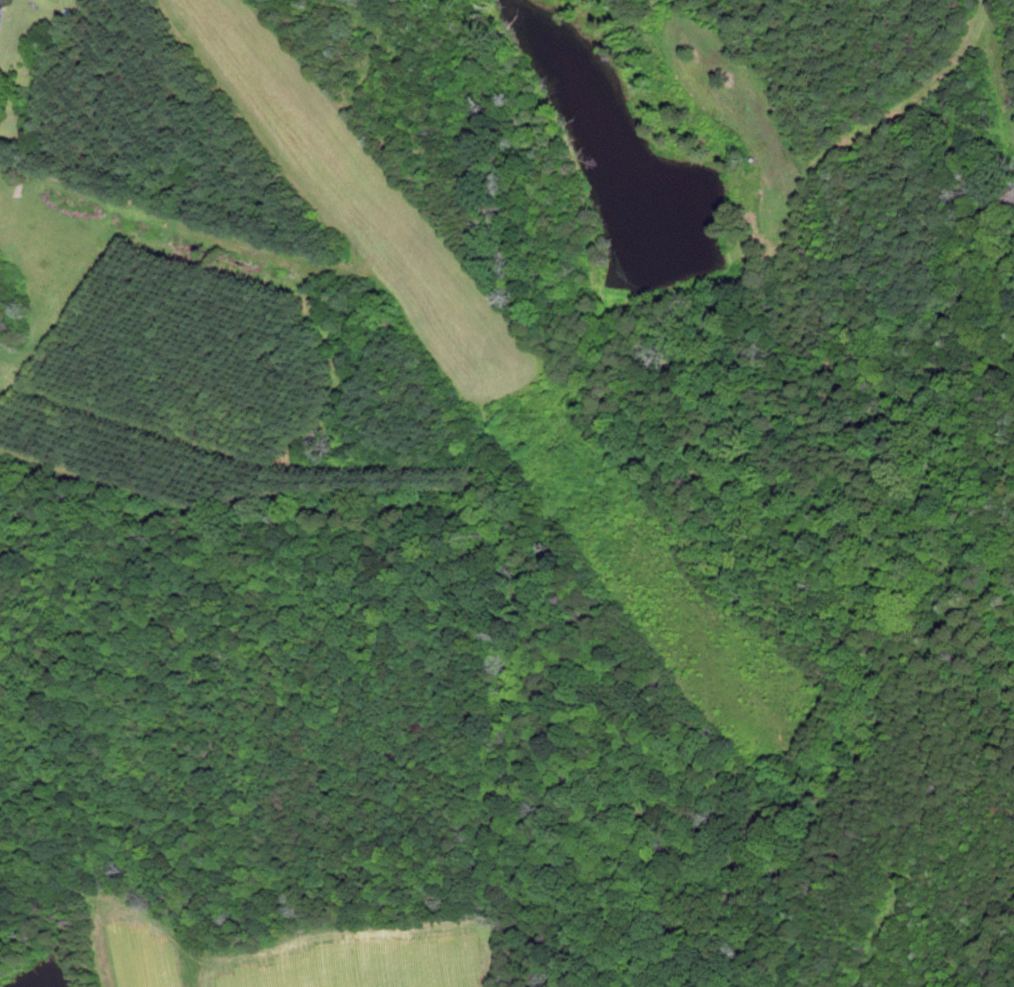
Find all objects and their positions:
airport runway: (349, 183)

